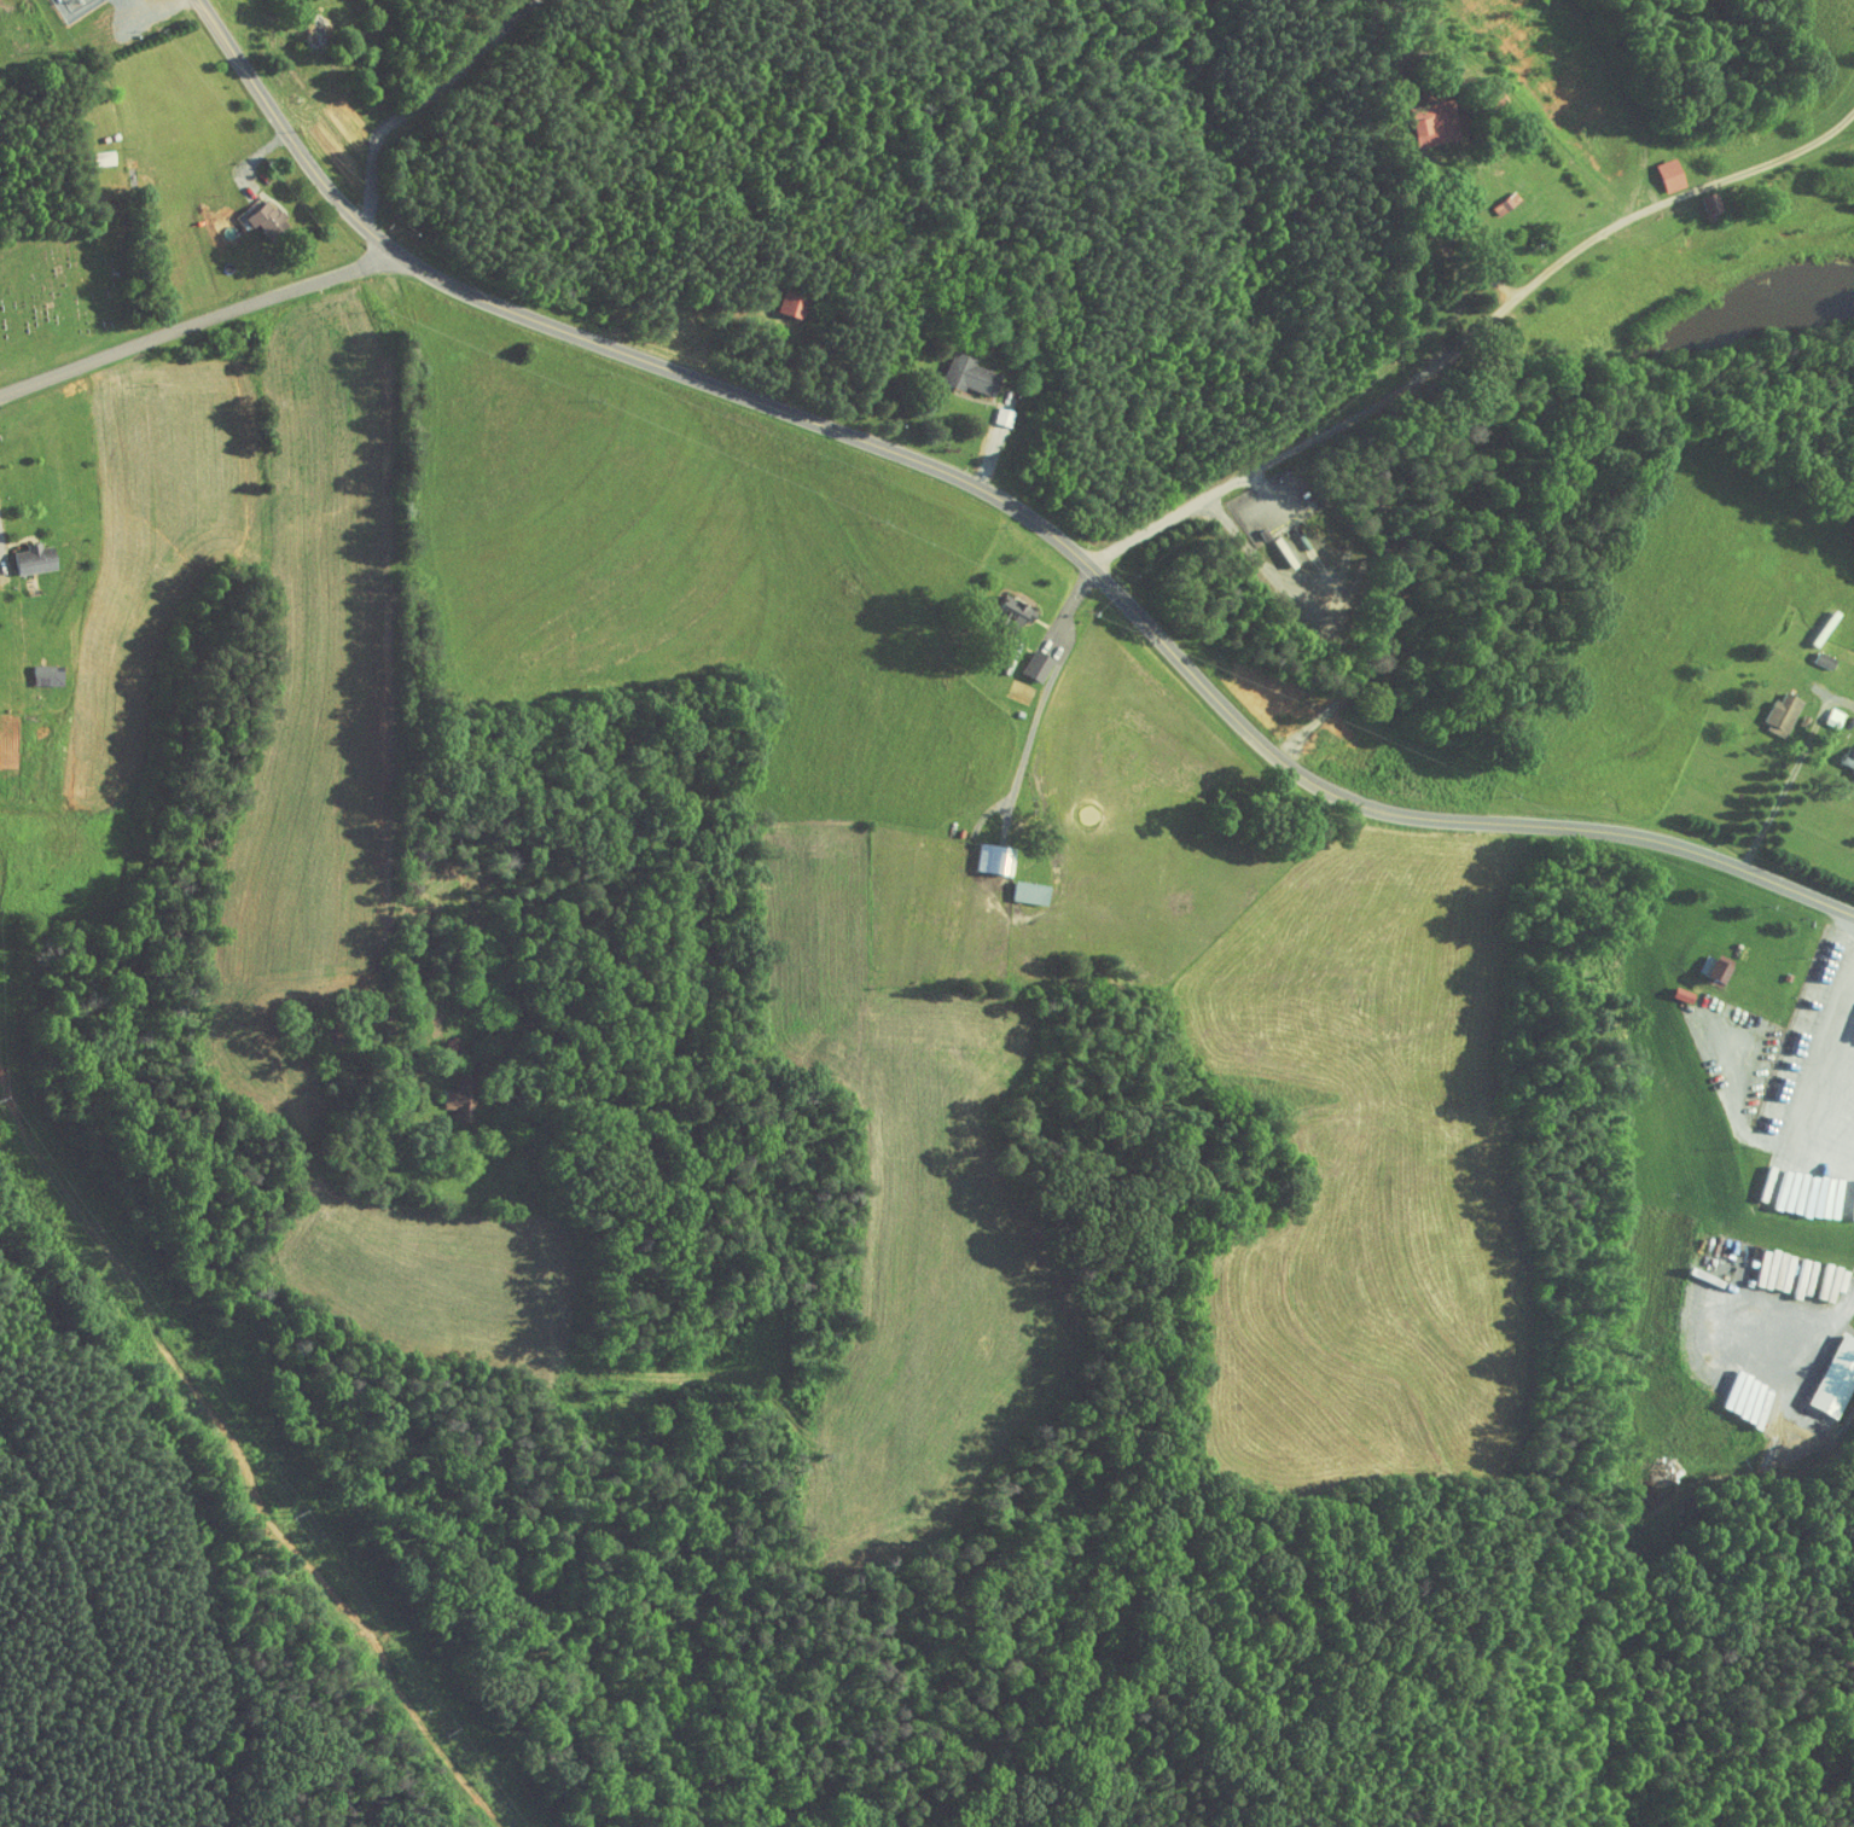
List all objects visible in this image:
power substation: (72, 7)
building: (315, 28)
building: (1418, 116)
building: (88, 150)
building: (98, 158)
building: (1655, 168)
building: (1492, 196)
building: (1696, 198)
building: (251, 213)
building: (265, 220)
building: (777, 297)
road: (197, 322)
road: (1471, 337)
building: (954, 368)
road: (1004, 502)
building: (30, 558)
building: (998, 605)
road: (393, 651)
building: (1022, 658)
building: (1818, 658)
building: (31, 668)
building: (1819, 711)
building: (1775, 714)
building: (1846, 758)
road: (1784, 772)
building: (981, 853)
building: (1015, 886)
building: (1704, 959)
building: (443, 1094)
building: (1825, 1367)

